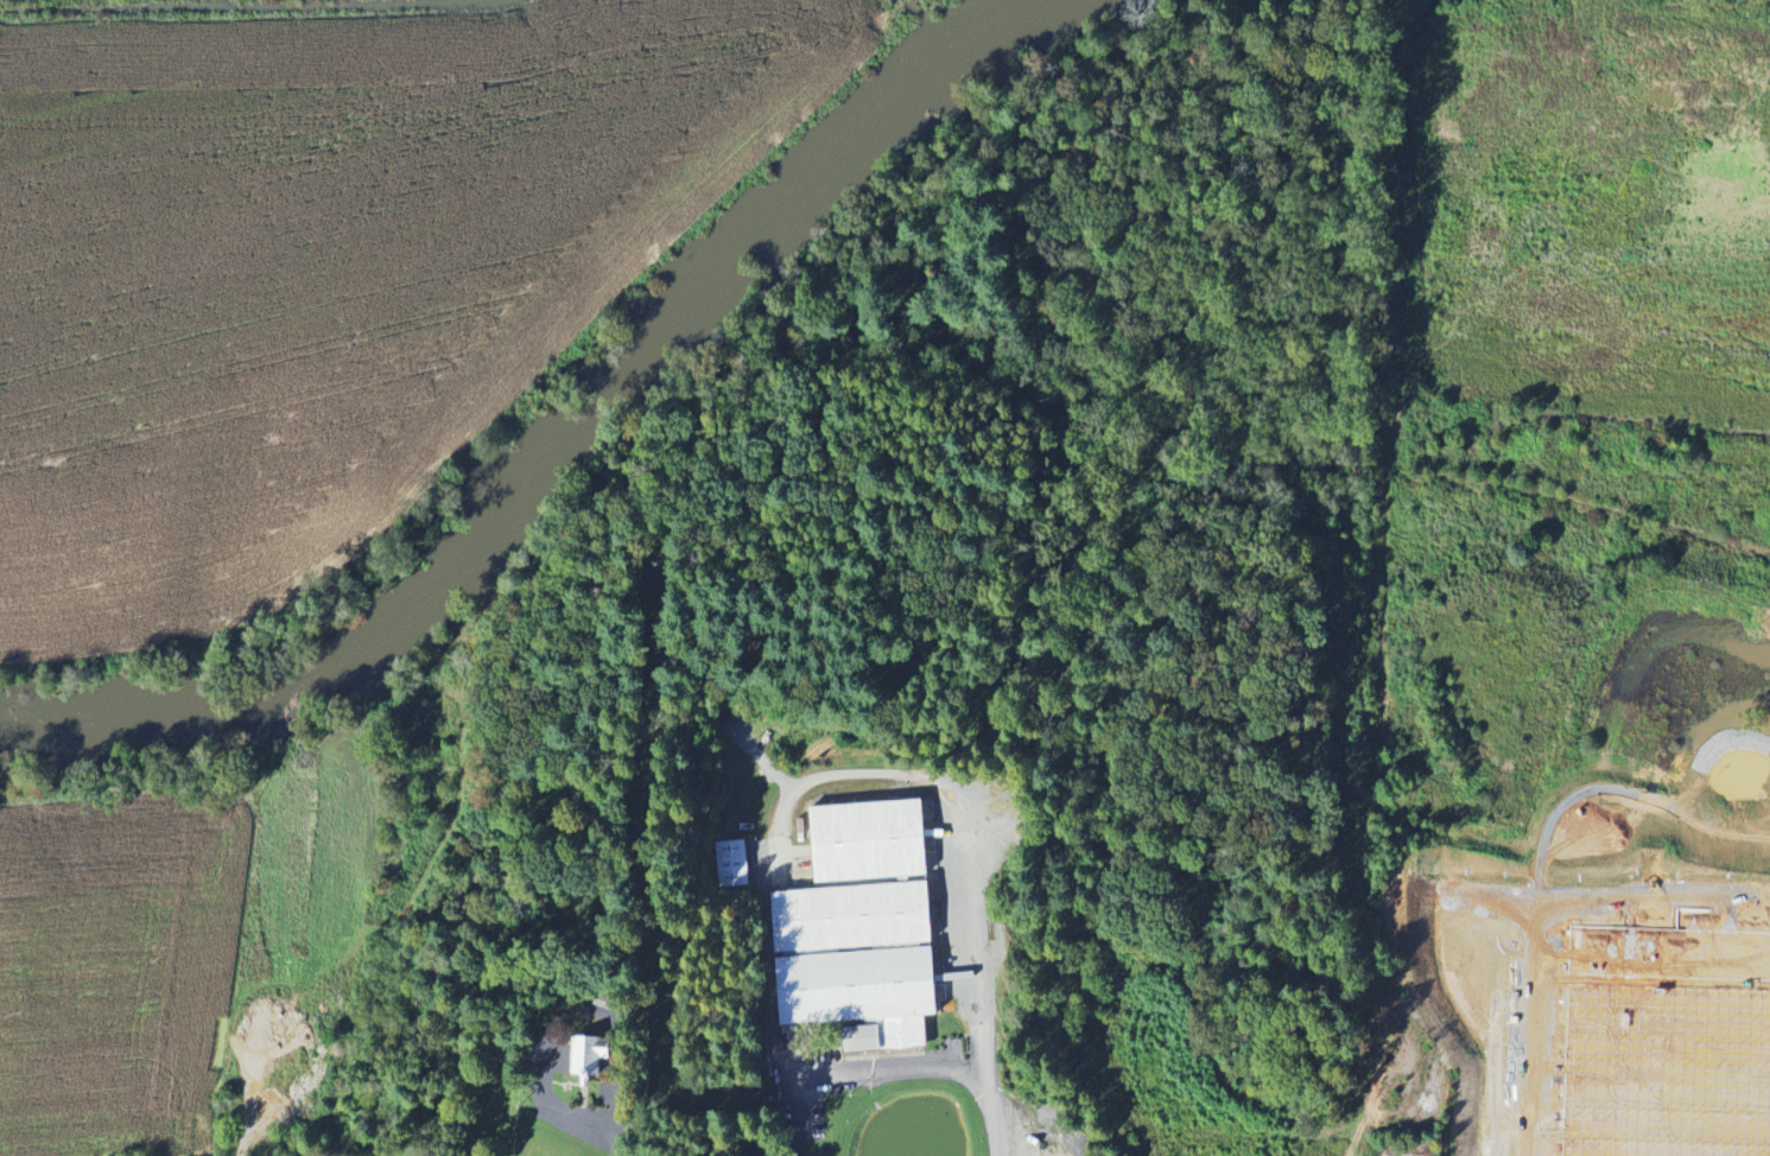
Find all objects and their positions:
river: (989, 34)
river: (514, 491)
building: (731, 863)
road: (978, 989)
road: (899, 1068)
park: (1390, 1155)

